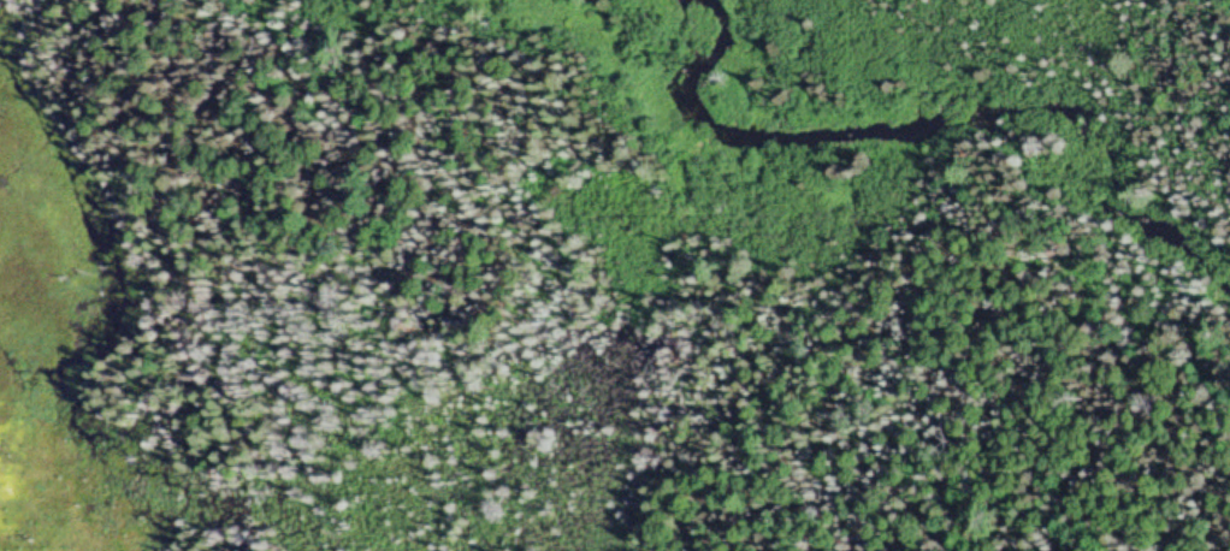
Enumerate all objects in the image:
river: (935, 103)

